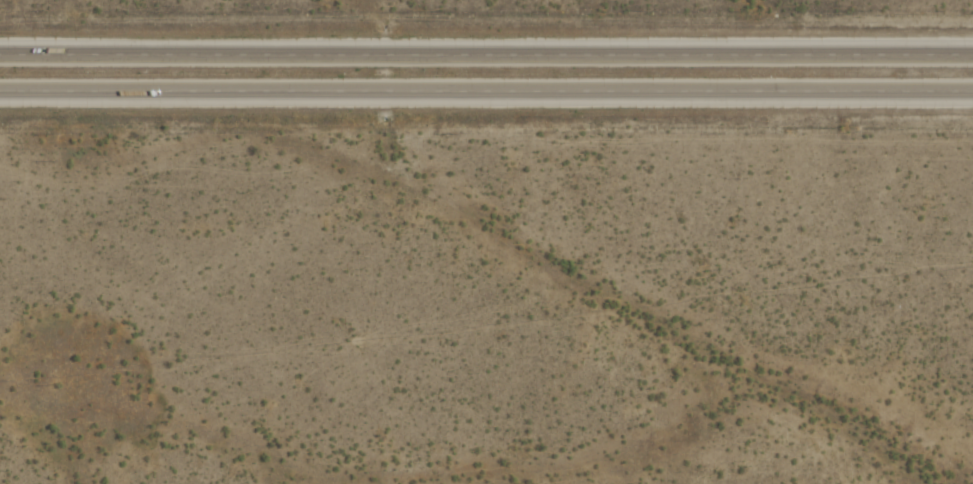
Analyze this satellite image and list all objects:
road: (486, 56)
road: (486, 93)

